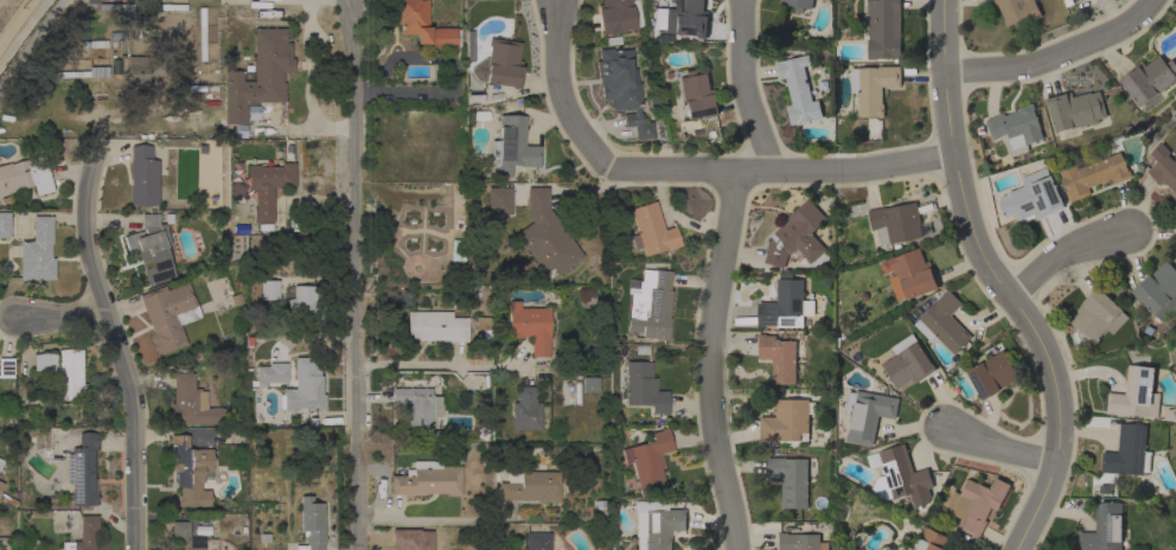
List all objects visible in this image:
building: (798, 4)
building: (1017, 12)
building: (618, 15)
building: (685, 18)
building: (422, 25)
building: (883, 28)
road: (28, 40)
road: (1055, 55)
building: (499, 64)
building: (97, 71)
building: (136, 73)
building: (75, 75)
building: (258, 75)
road: (308, 79)
building: (1149, 79)
road: (747, 87)
building: (873, 87)
building: (622, 88)
building: (798, 89)
road: (562, 91)
building: (697, 96)
building: (1075, 109)
building: (1015, 128)
building: (512, 146)
building: (1163, 167)
road: (784, 171)
building: (1092, 173)
building: (25, 177)
building: (143, 177)
building: (264, 186)
building: (1031, 197)
building: (497, 202)
building: (1175, 204)
building: (896, 223)
building: (5, 225)
building: (650, 231)
building: (545, 235)
building: (795, 235)
building: (152, 249)
building: (36, 251)
road: (1062, 255)
road: (352, 274)
building: (909, 274)
road: (1001, 281)
building: (269, 290)
building: (1158, 290)
building: (302, 302)
building: (650, 305)
building: (785, 305)
road: (64, 315)
building: (168, 315)
building: (1097, 315)
road: (8, 320)
building: (942, 322)
building: (482, 324)
building: (435, 326)
building: (530, 326)
road: (122, 350)
building: (313, 351)
building: (778, 357)
road: (711, 360)
building: (44, 362)
building: (907, 363)
road: (440, 366)
building: (6, 367)
building: (991, 375)
building: (71, 376)
building: (269, 376)
building: (590, 384)
building: (640, 388)
building: (305, 394)
building: (1135, 394)
building: (191, 403)
building: (413, 407)
building: (525, 410)
building: (867, 414)
building: (1170, 415)
building: (786, 421)
road: (1001, 447)
building: (1127, 452)
building: (647, 460)
building: (1, 462)
building: (82, 471)
building: (190, 472)
building: (899, 475)
building: (790, 479)
building: (427, 480)
building: (1, 485)
building: (530, 486)
building: (976, 503)
road: (433, 520)
building: (312, 524)
building: (656, 524)
building: (1102, 527)
building: (203, 532)
building: (83, 535)
building: (184, 537)
building: (263, 539)
building: (927, 541)
building: (537, 542)
building: (799, 542)

